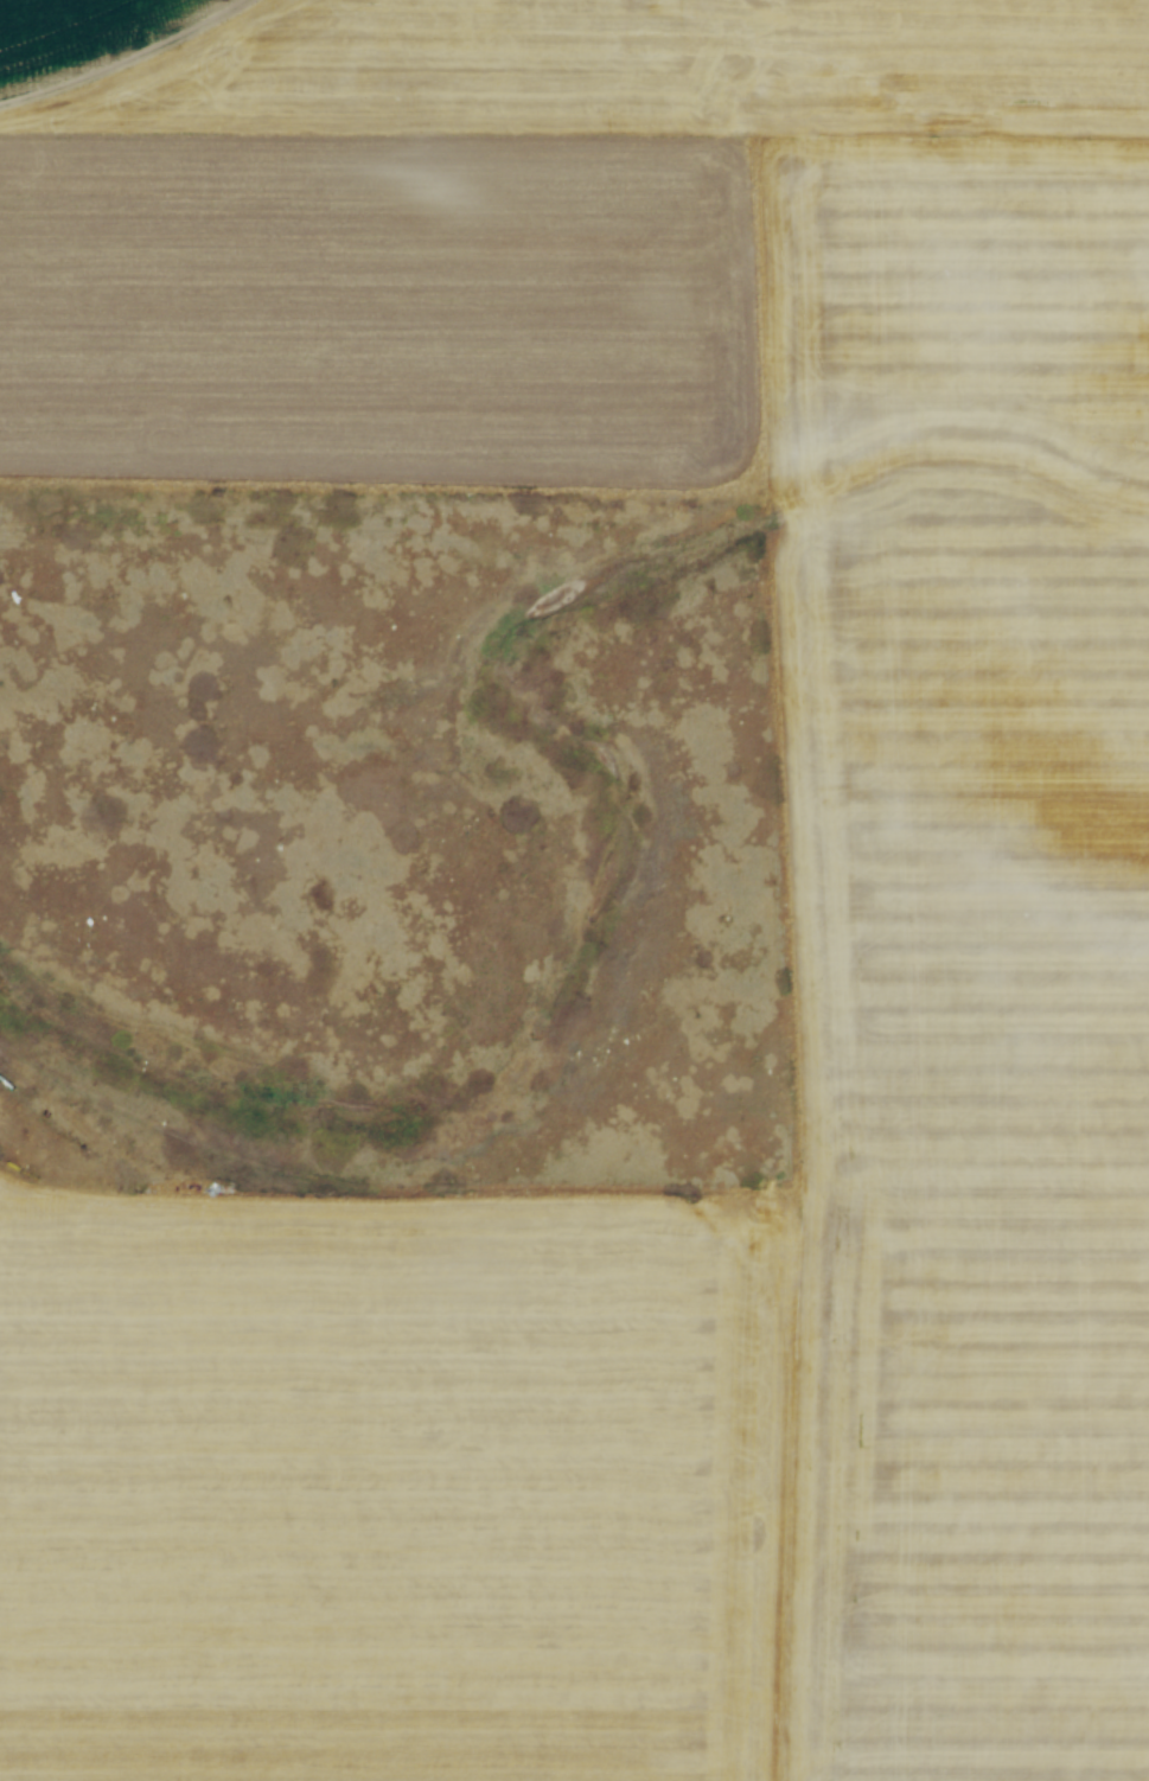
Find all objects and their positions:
crop: (968, 791)

